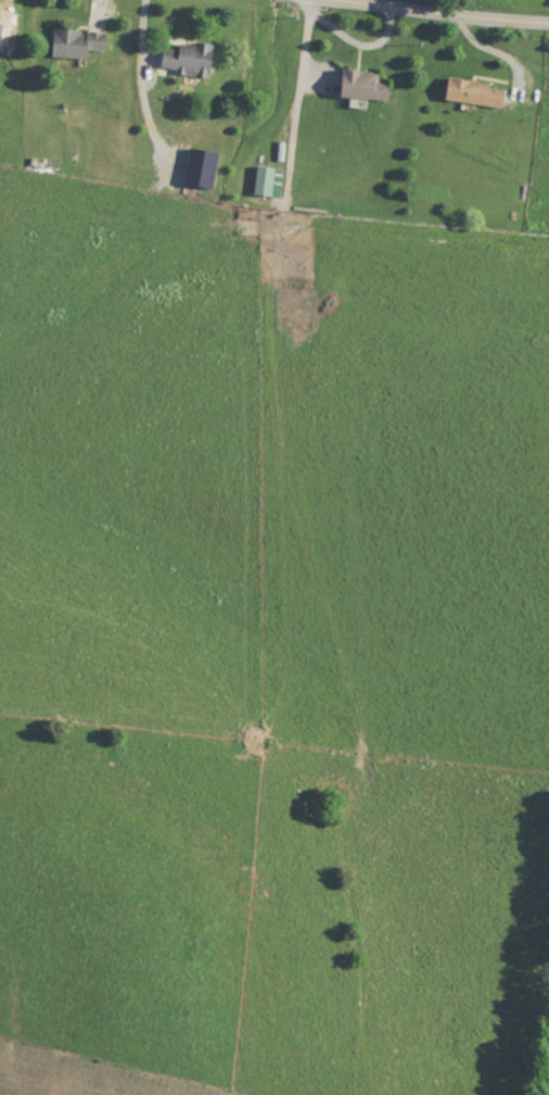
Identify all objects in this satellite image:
road: (454, 12)
building: (78, 43)
building: (190, 60)
building: (365, 86)
building: (475, 93)
building: (270, 181)

